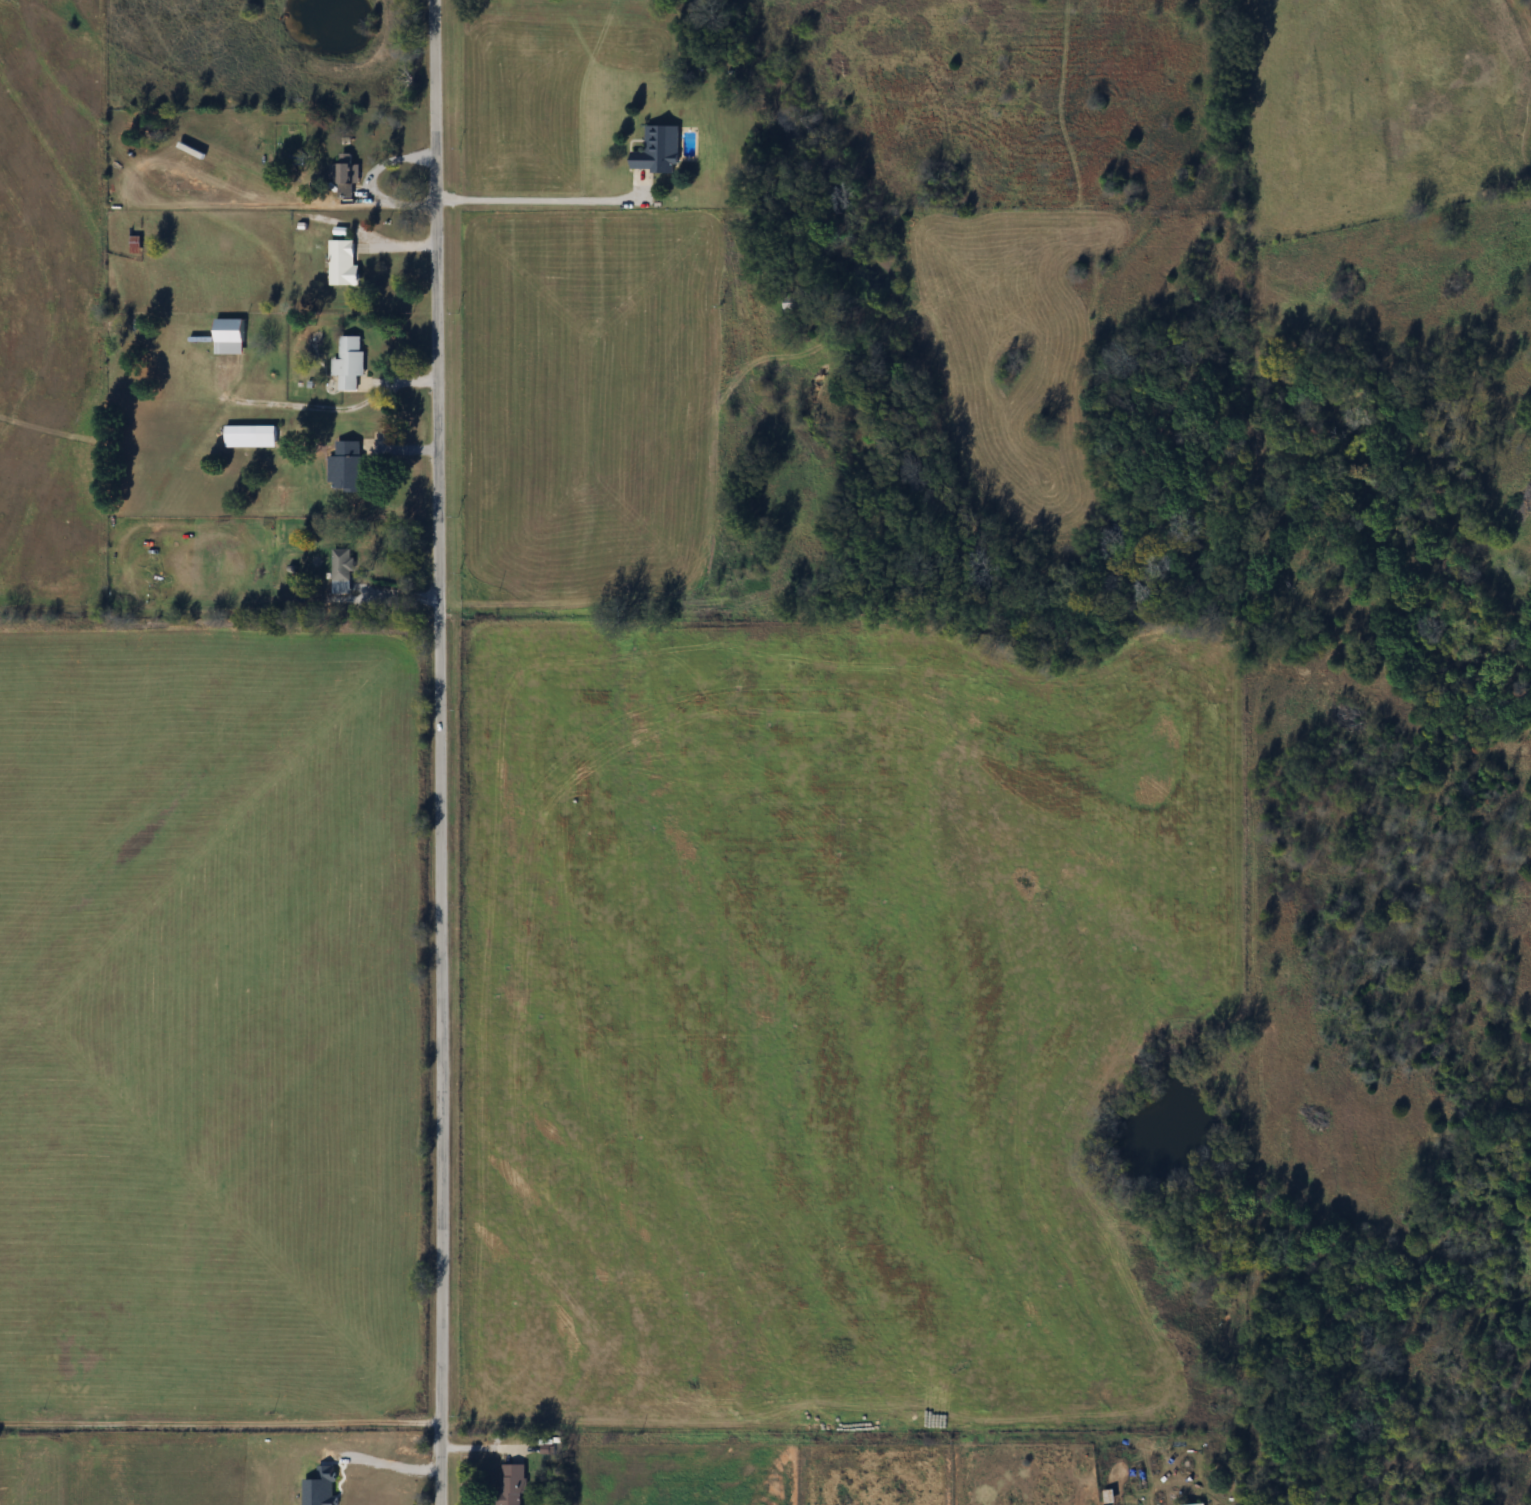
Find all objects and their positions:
building: (656, 150)
building: (346, 175)
road: (549, 200)
building: (134, 243)
building: (342, 263)
building: (793, 306)
building: (227, 336)
building: (348, 364)
building: (266, 434)
building: (346, 467)
road: (640, 530)
building: (340, 571)
road: (441, 752)
road: (221, 1425)
building: (511, 1483)
building: (1196, 1504)

